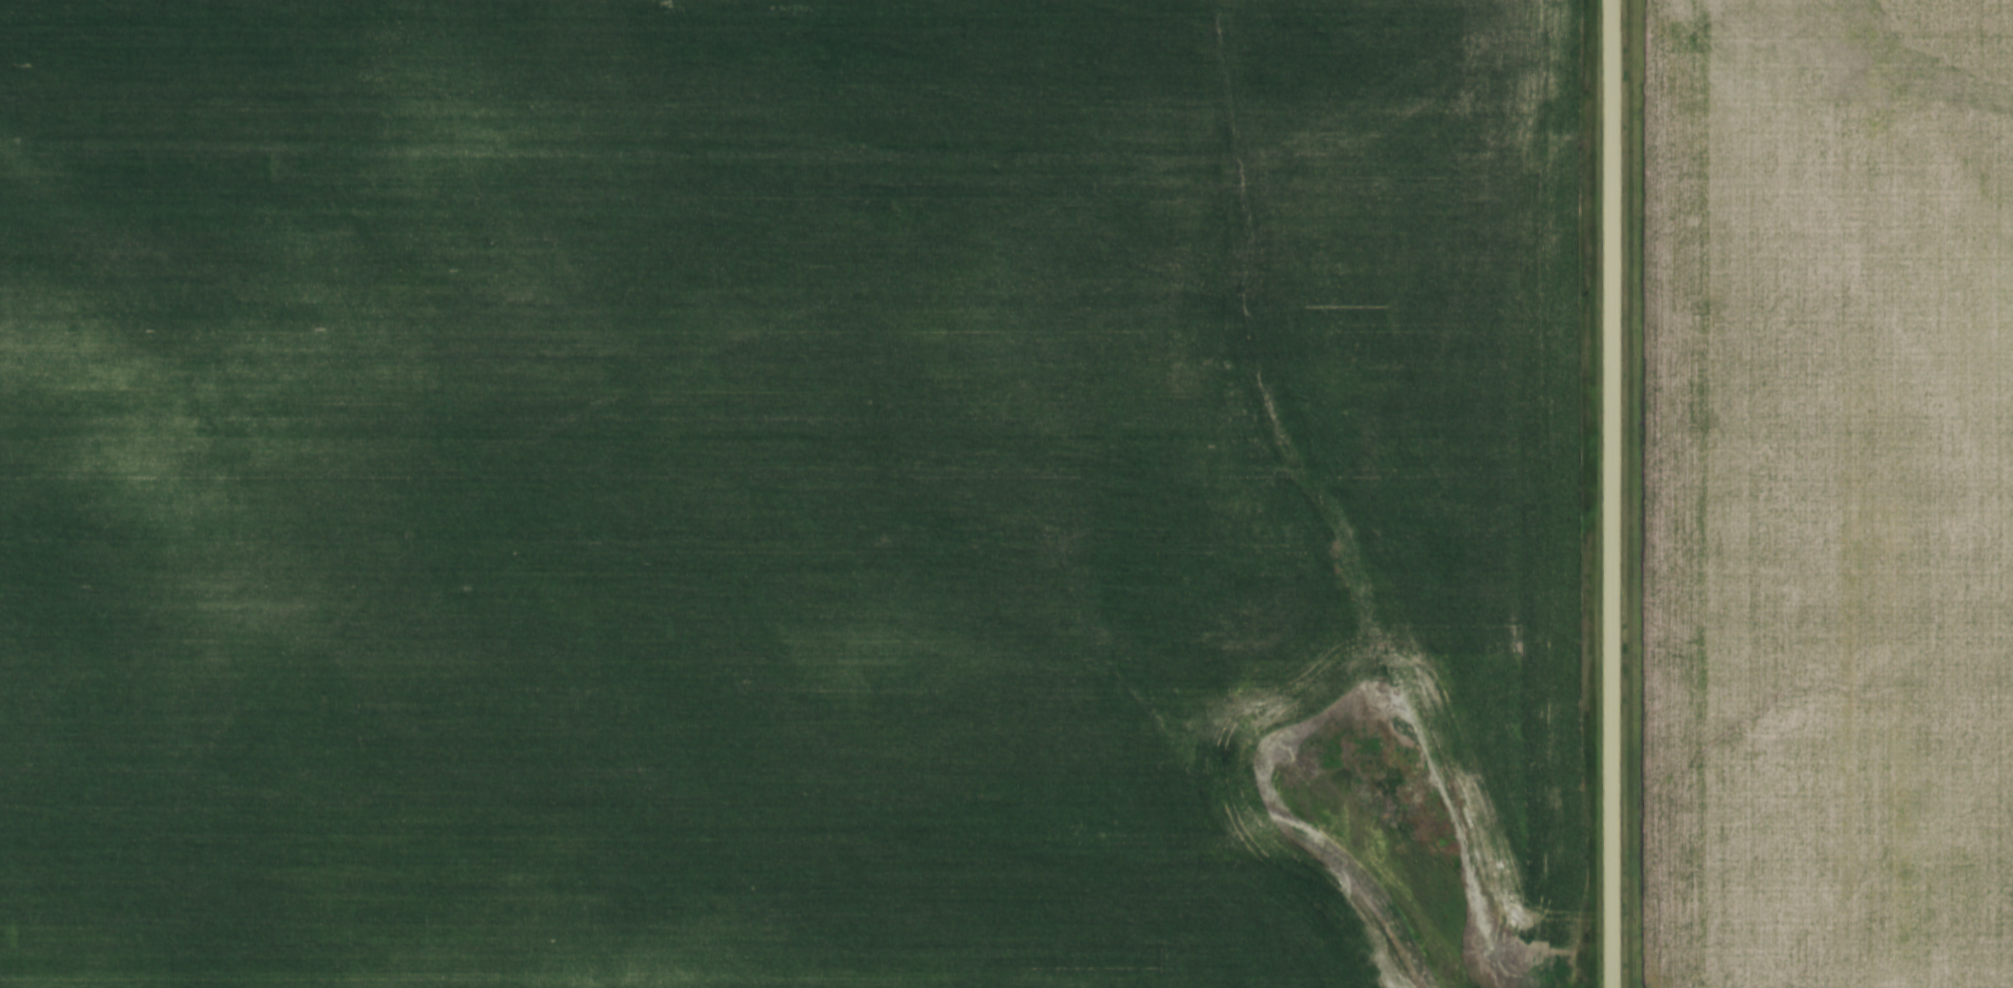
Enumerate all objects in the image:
road: (1610, 493)

